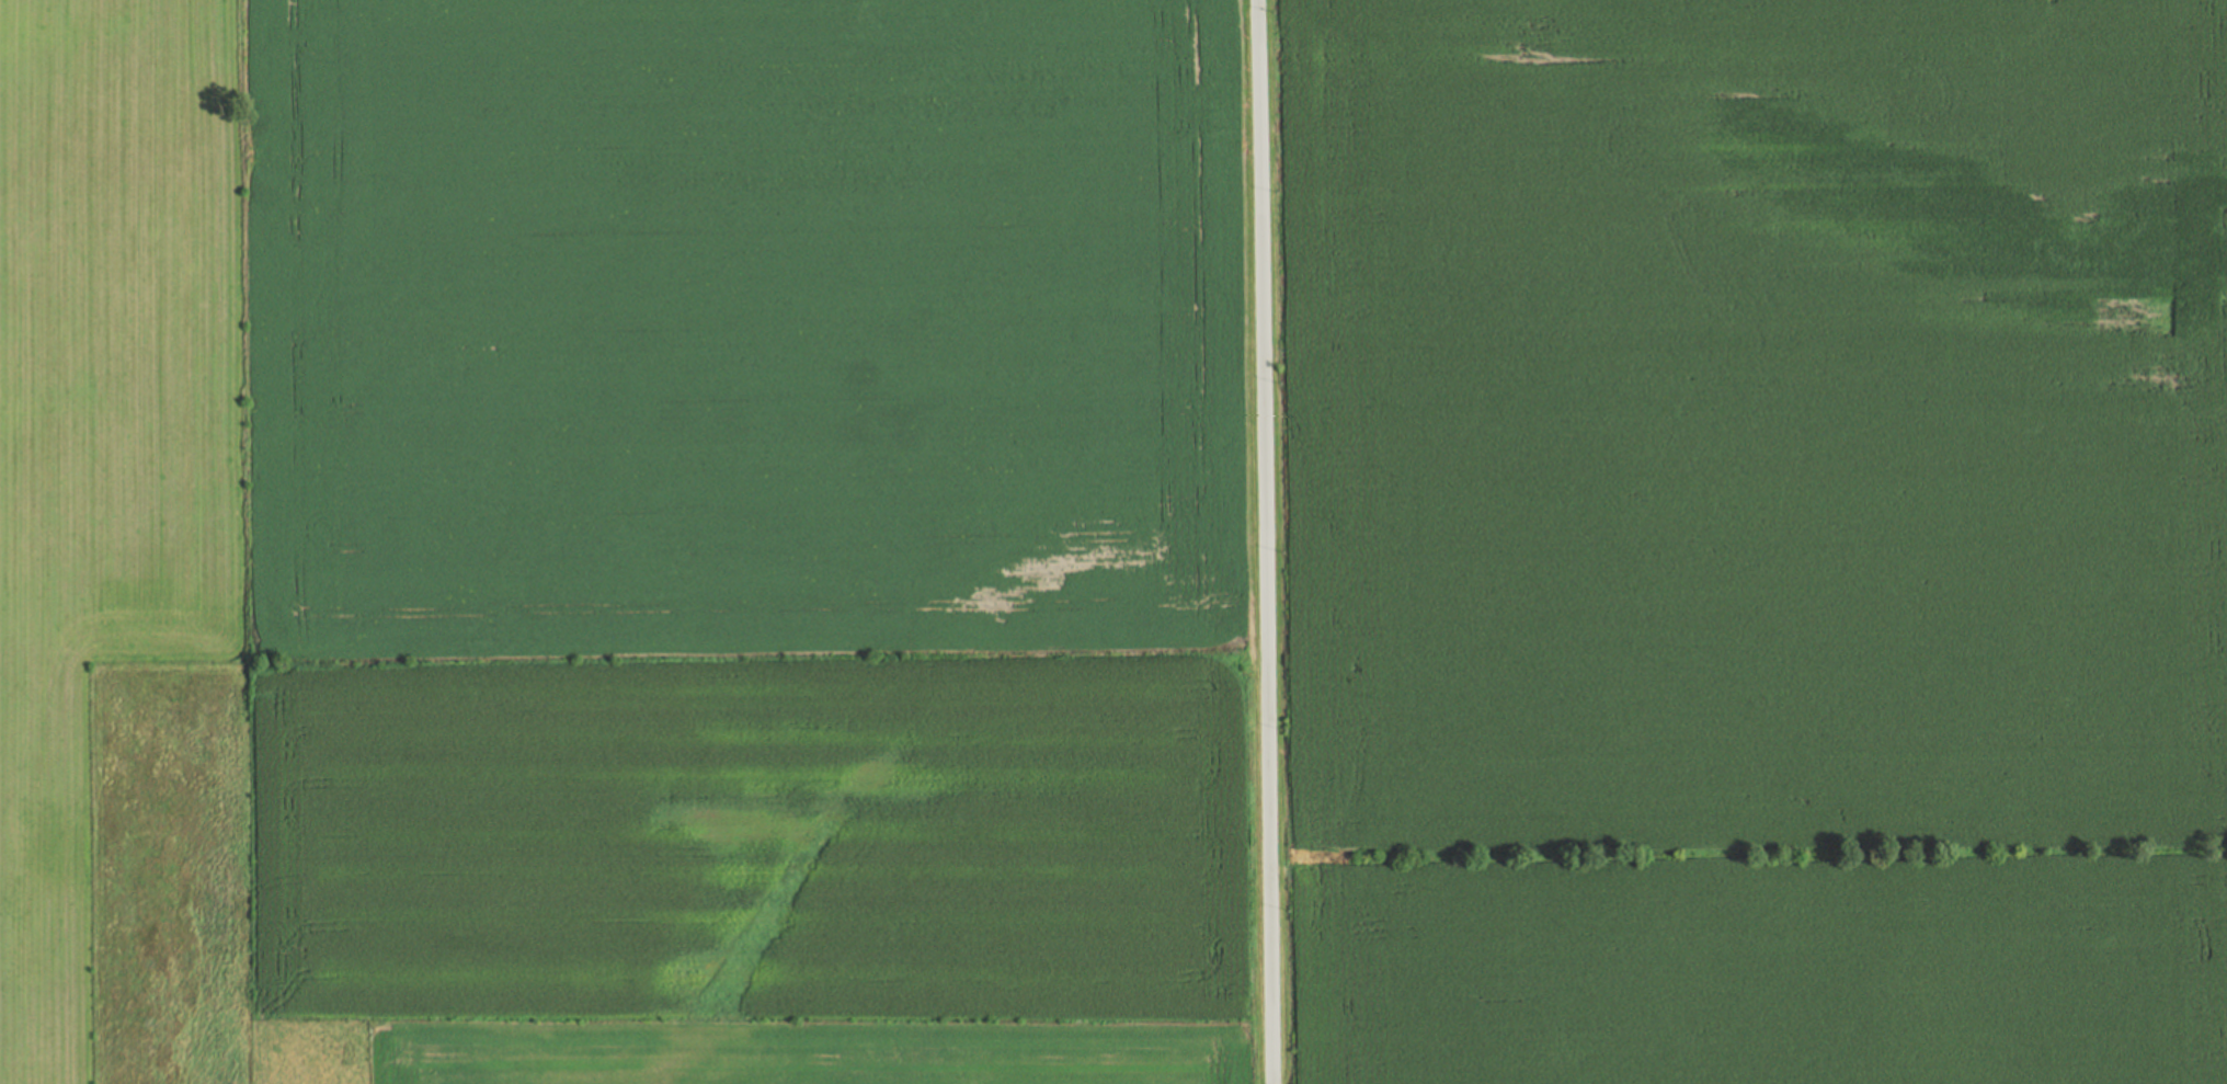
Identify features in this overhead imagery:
road: (1263, 541)

